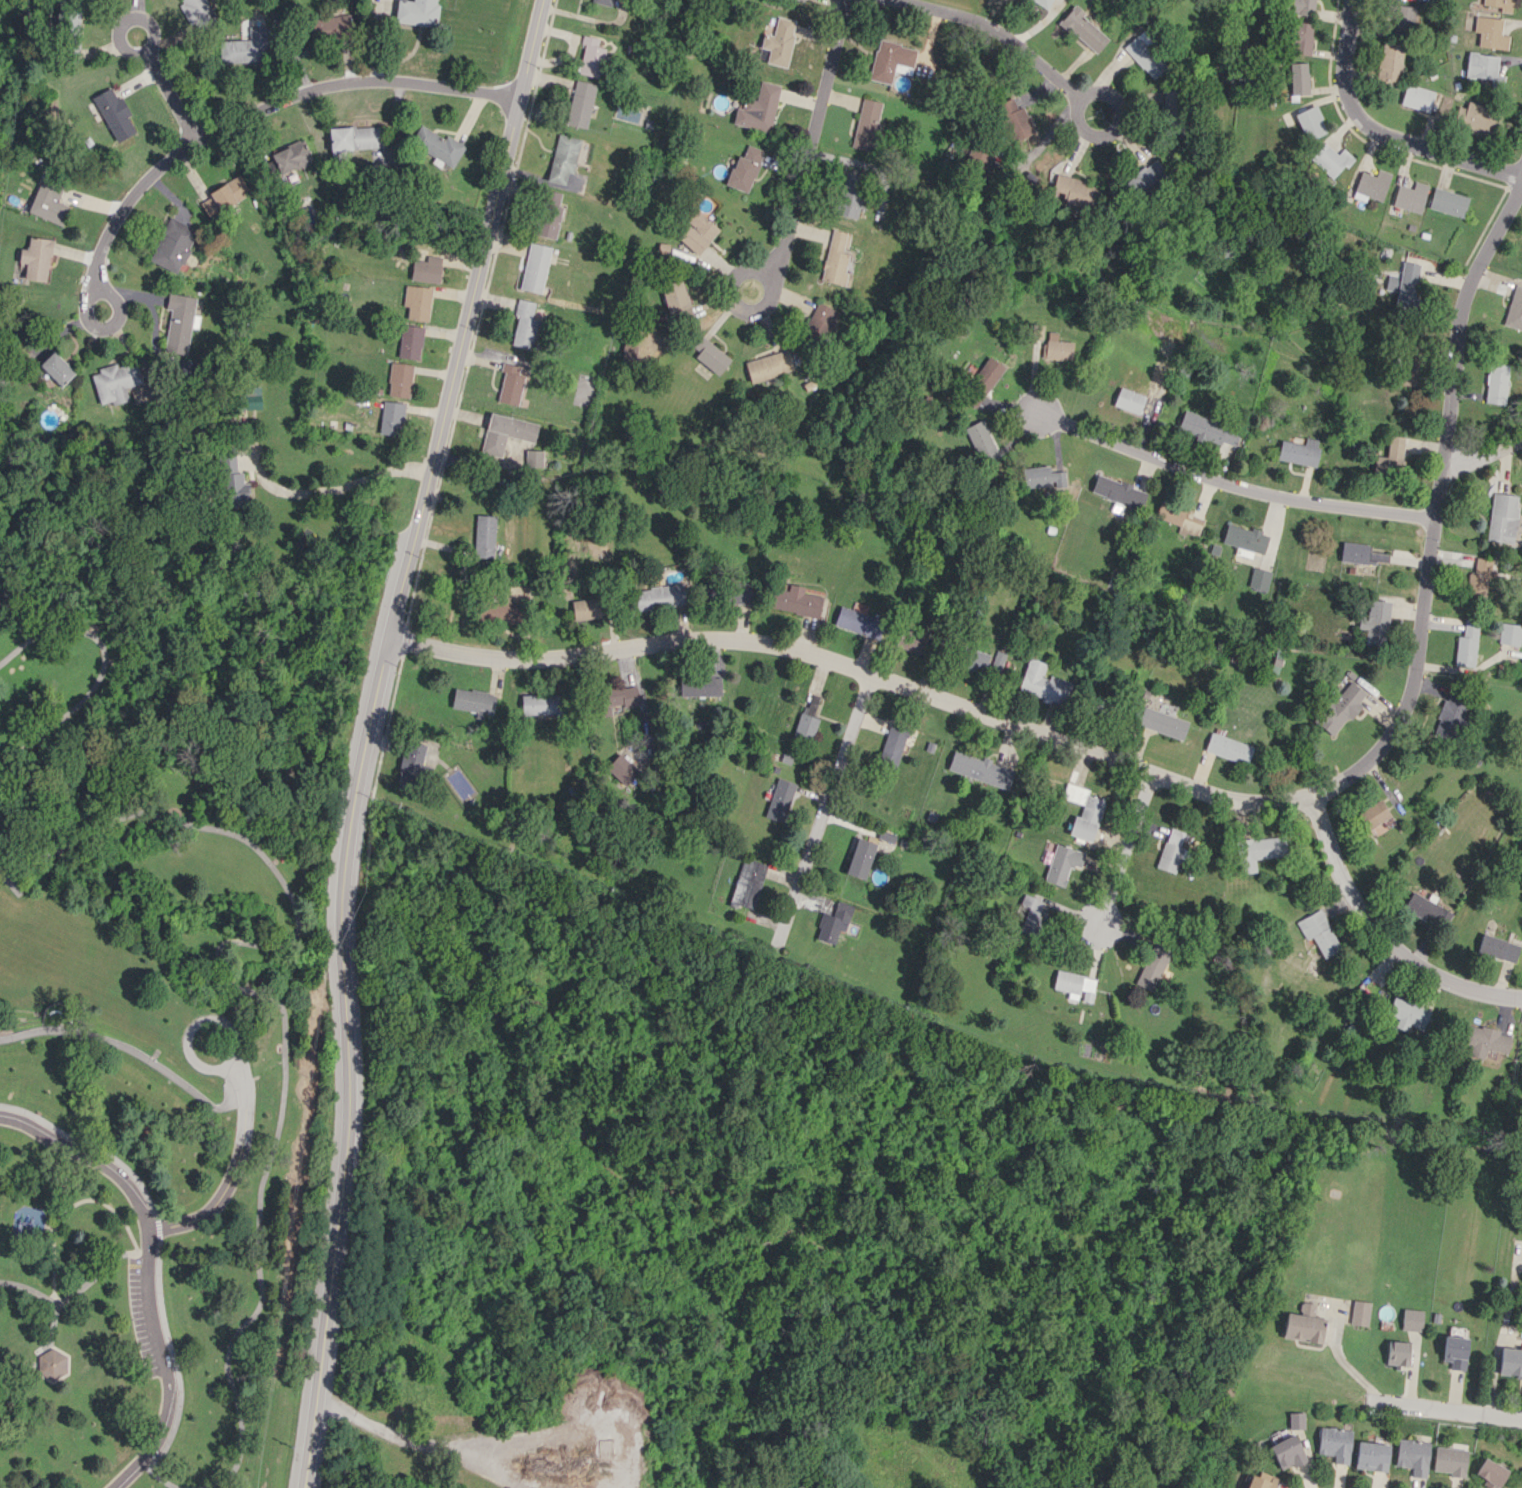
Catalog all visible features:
building: (603, 2)
building: (1042, 2)
building: (1498, 4)
building: (1300, 7)
building: (417, 12)
building: (198, 14)
building: (1403, 18)
building: (329, 25)
road: (997, 27)
building: (1490, 32)
building: (1089, 35)
building: (1300, 37)
building: (779, 41)
building: (244, 46)
road: (147, 48)
building: (1144, 54)
building: (591, 56)
building: (890, 59)
building: (1389, 64)
building: (1482, 66)
building: (1298, 78)
road: (352, 81)
building: (1417, 97)
building: (580, 103)
building: (1169, 104)
building: (758, 108)
building: (1010, 112)
building: (114, 114)
building: (1475, 116)
building: (1310, 122)
building: (867, 124)
road: (1114, 127)
road: (1380, 130)
building: (357, 137)
building: (437, 145)
road: (810, 150)
building: (291, 156)
building: (563, 158)
building: (1331, 159)
building: (979, 160)
building: (744, 169)
building: (1144, 178)
building: (1371, 185)
building: (1072, 190)
building: (225, 195)
building: (849, 195)
building: (1410, 196)
building: (49, 201)
building: (1449, 201)
road: (125, 205)
building: (548, 214)
building: (697, 231)
building: (173, 244)
building: (836, 258)
building: (35, 259)
building: (534, 267)
building: (428, 269)
building: (1392, 282)
building: (1408, 285)
building: (676, 299)
building: (417, 302)
building: (1515, 309)
road: (119, 312)
building: (179, 322)
building: (819, 323)
building: (524, 324)
building: (410, 341)
building: (1055, 347)
building: (710, 355)
building: (768, 365)
building: (56, 369)
building: (399, 379)
building: (115, 382)
building: (981, 382)
building: (1496, 383)
building: (510, 385)
building: (1128, 400)
building: (391, 418)
building: (1207, 429)
building: (505, 432)
building: (983, 442)
building: (1298, 451)
road: (1484, 452)
building: (1388, 456)
building: (533, 458)
building: (1042, 477)
road: (1232, 485)
road: (340, 487)
building: (1118, 491)
road: (1439, 508)
building: (1179, 517)
building: (1503, 517)
building: (484, 536)
building: (1245, 540)
building: (1360, 554)
building: (1259, 578)
building: (1481, 578)
building: (740, 592)
building: (660, 596)
building: (795, 600)
building: (586, 608)
building: (497, 610)
building: (858, 622)
building: (1376, 623)
building: (1510, 633)
building: (912, 641)
building: (1467, 644)
building: (976, 659)
building: (997, 660)
road: (104, 666)
road: (856, 667)
building: (1044, 684)
building: (700, 685)
building: (617, 698)
building: (474, 701)
building: (540, 704)
building: (1340, 709)
building: (1451, 716)
building: (1162, 722)
building: (804, 727)
road: (368, 735)
building: (893, 744)
building: (1228, 748)
building: (412, 765)
building: (621, 769)
building: (980, 769)
building: (779, 800)
road: (821, 810)
building: (1083, 811)
building: (1372, 814)
building: (1171, 850)
building: (1259, 851)
road: (1124, 853)
building: (860, 858)
building: (1062, 863)
road: (308, 882)
building: (747, 883)
building: (1426, 909)
building: (1031, 914)
building: (833, 922)
building: (1317, 932)
road: (1381, 935)
building: (1497, 948)
building: (1075, 985)
building: (1406, 1014)
road: (284, 1022)
building: (1483, 1040)
road: (129, 1050)
park: (148, 1055)
road: (239, 1157)
road: (157, 1252)
road: (147, 1271)
building: (1359, 1312)
parking lot: (144, 1318)
building: (1412, 1320)
building: (1303, 1324)
building: (1455, 1351)
building: (1397, 1353)
road: (1338, 1356)
building: (1510, 1362)
building: (51, 1363)
road: (1450, 1409)
building: (1296, 1420)
building: (1335, 1443)
building: (1286, 1452)
building: (1371, 1456)
building: (1413, 1456)
building: (1450, 1460)
building: (1492, 1473)
building: (1259, 1480)

